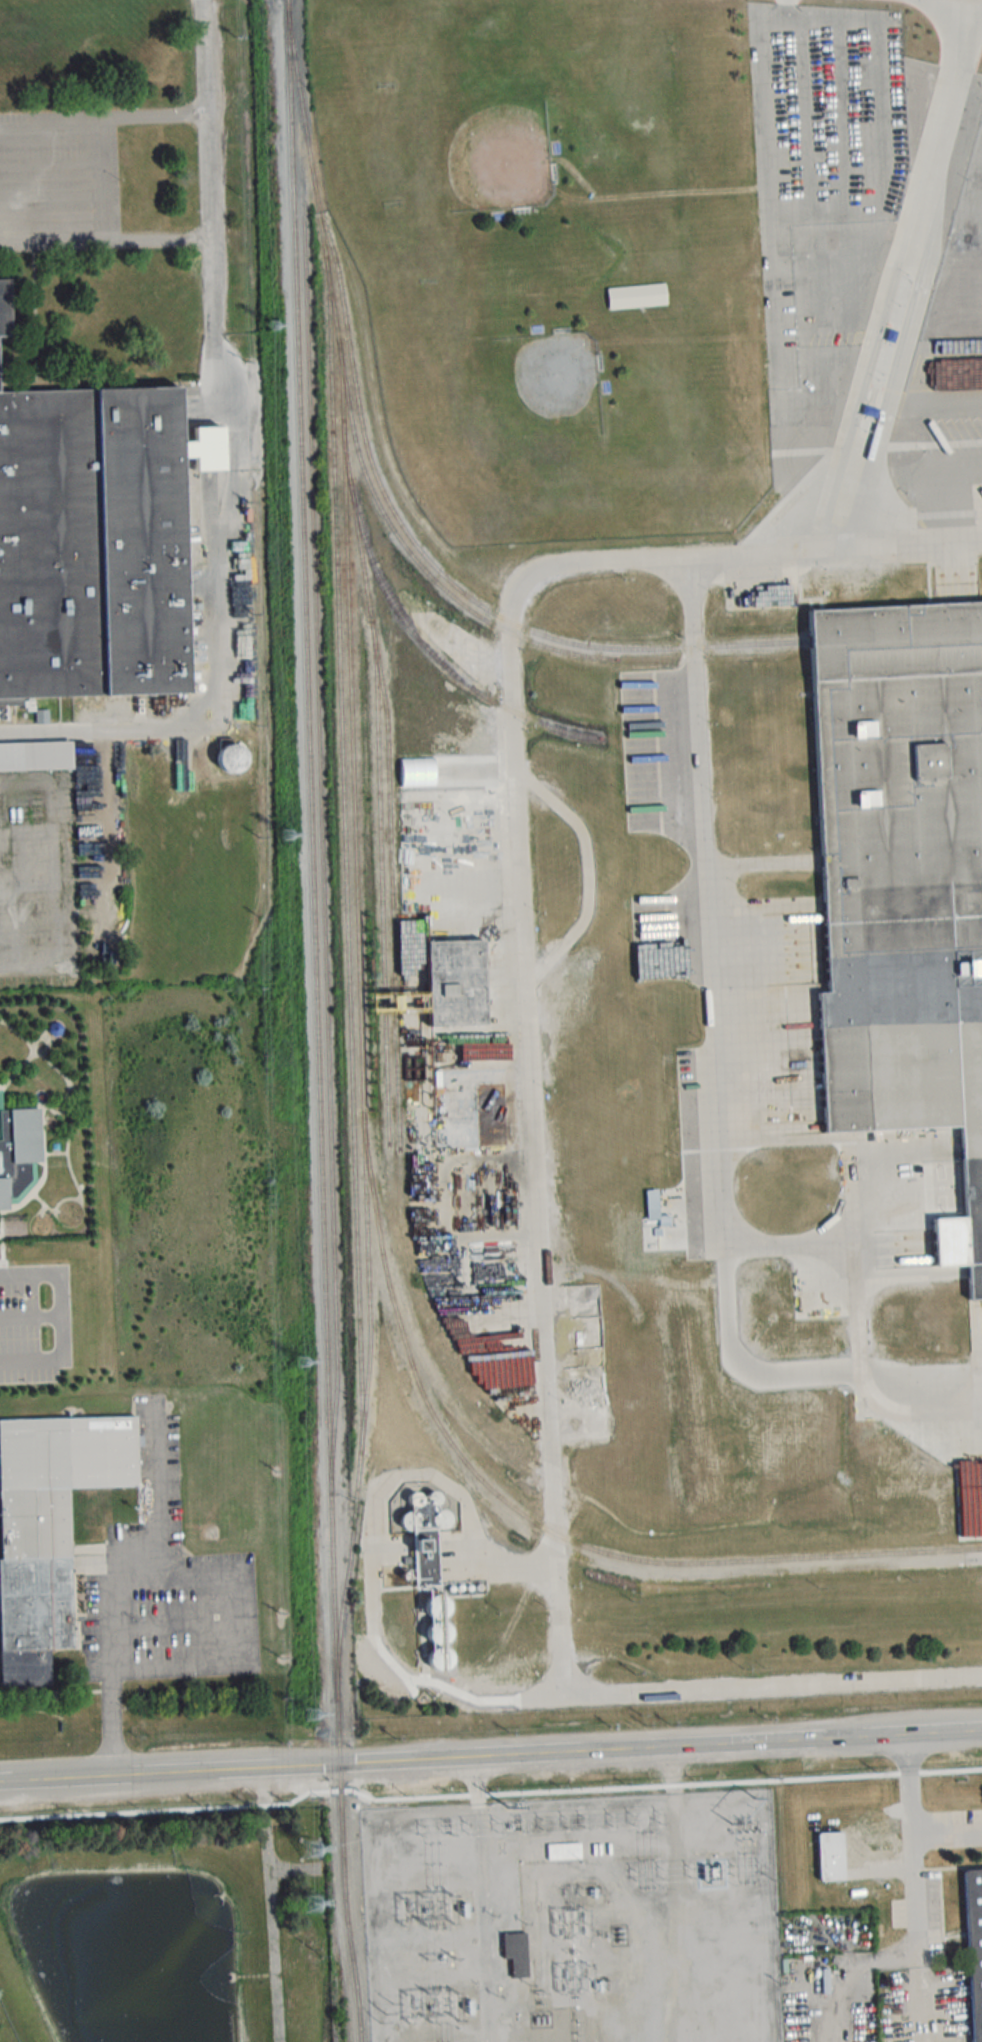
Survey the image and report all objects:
park: (428, 104)
road: (99, 119)
road: (211, 203)
road: (106, 241)
road: (771, 243)
road: (905, 269)
building: (637, 296)
building: (5, 309)
power tower: (273, 327)
park: (501, 435)
road: (906, 536)
building: (93, 544)
railway: (421, 568)
railway: (441, 574)
railway: (896, 635)
railway: (416, 637)
road: (225, 674)
railway: (350, 715)
building: (35, 757)
building: (232, 758)
railway: (321, 804)
railway: (379, 823)
power tower: (288, 836)
building: (902, 873)
railway: (390, 895)
railway: (313, 945)
building: (457, 984)
railway: (349, 986)
road: (720, 1090)
building: (18, 1154)
road: (531, 1183)
railway: (373, 1185)
building: (893, 1316)
road: (60, 1317)
building: (585, 1357)
power tower: (303, 1365)
building: (869, 1438)
railway: (549, 1484)
road: (157, 1488)
building: (50, 1531)
railway: (553, 1541)
railway: (571, 1541)
road: (372, 1554)
railway: (972, 1557)
road: (246, 1618)
road: (111, 1679)
power tower: (312, 1715)
road: (924, 1736)
road: (507, 1756)
road: (671, 1771)
road: (74, 1779)
road: (477, 1780)
power tower: (507, 1807)
road: (911, 1832)
road: (947, 1841)
power tower: (313, 1849)
building: (563, 1851)
building: (836, 1854)
power tower: (314, 1905)
road: (677, 1917)
power substation: (573, 1919)
road: (485, 1922)
building: (974, 1949)
building: (514, 1951)
railway: (352, 1965)
building: (888, 2006)

